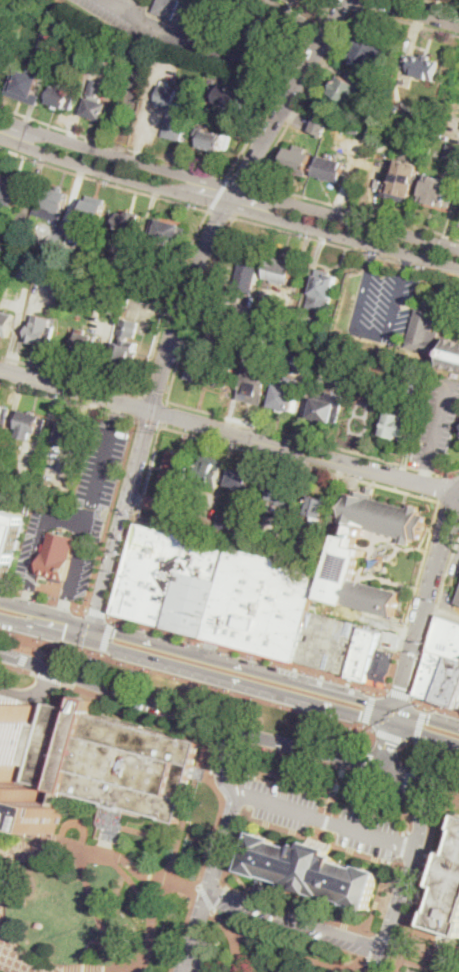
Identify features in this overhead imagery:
road: (359, 3)
road: (443, 4)
road: (2, 5)
building: (167, 8)
road: (419, 10)
road: (8, 19)
road: (408, 20)
parking lot: (181, 31)
road: (178, 34)
park: (189, 35)
building: (48, 41)
building: (366, 49)
building: (102, 50)
road: (281, 63)
building: (421, 66)
building: (25, 86)
road: (279, 87)
road: (131, 88)
building: (345, 88)
road: (305, 93)
building: (64, 97)
building: (234, 98)
building: (98, 104)
building: (172, 111)
building: (354, 126)
building: (321, 128)
building: (406, 131)
building: (212, 139)
road: (113, 143)
building: (452, 150)
building: (297, 160)
building: (330, 168)
building: (0, 171)
building: (0, 174)
road: (241, 178)
road: (103, 181)
building: (403, 182)
road: (228, 184)
building: (13, 189)
building: (438, 191)
road: (219, 192)
road: (232, 197)
building: (51, 204)
road: (228, 204)
road: (356, 209)
building: (91, 212)
road: (221, 212)
building: (127, 220)
building: (171, 232)
road: (346, 246)
road: (374, 250)
building: (50, 259)
road: (408, 260)
building: (26, 272)
building: (281, 272)
building: (248, 273)
building: (127, 274)
building: (48, 278)
building: (140, 283)
building: (322, 291)
parking lot: (383, 300)
building: (113, 306)
building: (5, 323)
building: (40, 330)
road: (371, 333)
building: (432, 340)
building: (86, 343)
building: (126, 344)
building: (311, 349)
building: (430, 359)
road: (149, 370)
building: (210, 370)
building: (257, 382)
building: (418, 385)
road: (75, 390)
building: (286, 396)
road: (155, 398)
road: (68, 401)
building: (328, 407)
road: (140, 408)
road: (217, 413)
road: (163, 414)
building: (4, 418)
parking lot: (436, 422)
road: (438, 422)
road: (148, 424)
building: (31, 425)
building: (458, 425)
building: (397, 426)
building: (70, 434)
road: (305, 452)
road: (102, 463)
building: (176, 470)
building: (210, 471)
road: (423, 473)
building: (9, 474)
road: (148, 474)
building: (240, 479)
road: (373, 484)
road: (443, 487)
building: (283, 493)
building: (318, 506)
parking lot: (76, 511)
road: (111, 515)
building: (252, 515)
building: (226, 521)
road: (121, 526)
building: (8, 540)
road: (42, 543)
building: (257, 545)
road: (77, 554)
building: (58, 555)
building: (315, 557)
road: (33, 560)
building: (343, 564)
road: (122, 568)
road: (446, 579)
building: (170, 580)
road: (44, 599)
building: (458, 602)
building: (261, 604)
parking lot: (261, 604)
road: (424, 605)
road: (442, 609)
road: (30, 610)
road: (97, 612)
road: (112, 620)
road: (103, 629)
traffic signals: (116, 633)
traffic signals: (64, 635)
road: (106, 638)
road: (30, 639)
building: (327, 642)
road: (235, 648)
road: (211, 649)
road: (101, 653)
road: (247, 653)
road: (5, 654)
building: (364, 654)
road: (267, 656)
road: (424, 656)
road: (5, 657)
road: (24, 657)
road: (270, 657)
building: (440, 657)
road: (217, 660)
road: (285, 661)
building: (382, 666)
road: (10, 670)
road: (196, 670)
road: (395, 670)
road: (187, 678)
road: (46, 683)
building: (450, 684)
traffic signals: (402, 687)
road: (330, 691)
road: (373, 691)
road: (401, 695)
road: (103, 698)
building: (458, 704)
road: (384, 705)
road: (435, 706)
road: (425, 707)
road: (369, 708)
traffic signals: (360, 715)
road: (395, 716)
road: (427, 718)
traffic signals: (428, 719)
road: (193, 720)
road: (364, 724)
road: (420, 724)
road: (425, 734)
road: (391, 735)
road: (415, 740)
traffic signals: (389, 742)
road: (388, 744)
road: (433, 746)
road: (350, 748)
building: (11, 750)
building: (427, 750)
building: (109, 761)
road: (224, 763)
road: (416, 767)
road: (206, 775)
building: (356, 776)
road: (418, 777)
road: (259, 778)
road: (405, 780)
road: (419, 780)
road: (339, 781)
road: (412, 792)
road: (188, 810)
road: (328, 815)
road: (418, 815)
parking lot: (321, 817)
road: (324, 822)
building: (1, 824)
road: (112, 825)
road: (34, 835)
road: (154, 836)
road: (105, 851)
road: (98, 852)
road: (207, 852)
road: (403, 853)
road: (207, 859)
building: (311, 870)
road: (421, 880)
road: (189, 883)
road: (209, 883)
road: (134, 885)
building: (446, 891)
road: (221, 898)
road: (1, 904)
road: (395, 910)
road: (96, 911)
road: (294, 918)
road: (150, 926)
road: (367, 930)
road: (372, 942)
park: (267, 949)
road: (292, 951)
road: (234, 954)
road: (420, 956)
road: (298, 964)
road: (355, 967)

